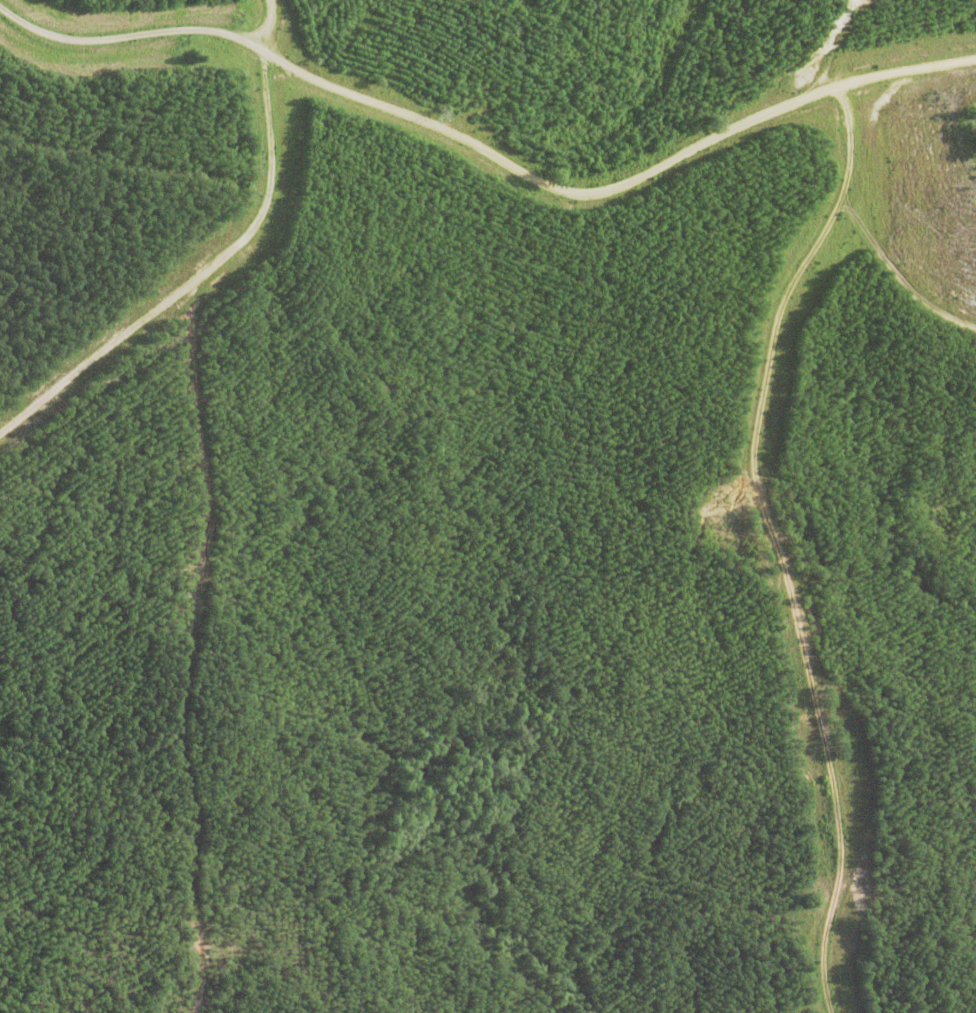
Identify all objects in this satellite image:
road: (489, 144)

